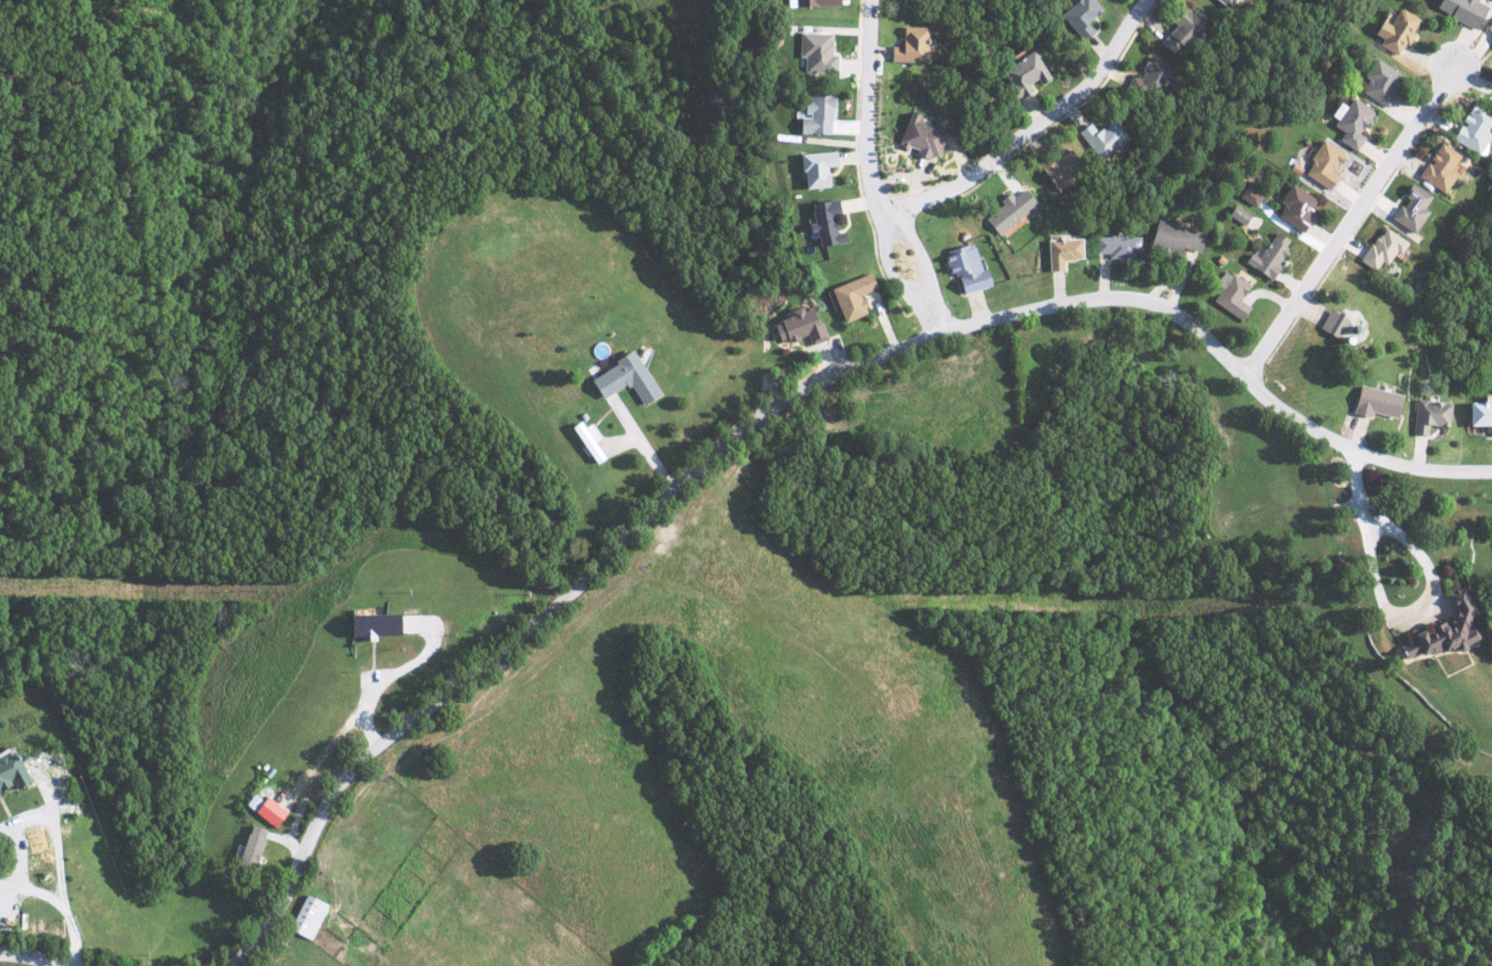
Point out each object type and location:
building: (1223, 2)
building: (809, 3)
building: (1458, 10)
building: (1078, 16)
building: (1488, 30)
building: (1393, 31)
building: (907, 45)
building: (814, 52)
building: (1021, 76)
building: (1146, 77)
building: (1377, 82)
building: (813, 114)
building: (1349, 122)
building: (1471, 129)
road: (1035, 131)
building: (918, 137)
building: (1101, 138)
building: (1321, 166)
building: (813, 168)
building: (1436, 168)
building: (1057, 169)
road: (873, 174)
building: (1248, 196)
building: (1293, 207)
building: (1409, 209)
building: (1006, 211)
building: (1236, 215)
building: (821, 223)
road: (1350, 225)
building: (1172, 238)
building: (1114, 246)
building: (1381, 249)
building: (1058, 253)
building: (1266, 256)
building: (962, 268)
building: (1228, 295)
building: (848, 297)
building: (1331, 325)
building: (796, 327)
building: (621, 379)
road: (807, 386)
building: (1372, 402)
building: (1428, 415)
building: (1479, 415)
building: (586, 441)
road: (640, 443)
road: (1385, 609)
building: (370, 624)
building: (1442, 628)
road: (405, 666)
road: (309, 767)
building: (10, 770)
building: (266, 810)
road: (53, 839)
building: (249, 846)
road: (35, 890)
building: (304, 915)
road: (256, 937)
road: (72, 938)
road: (30, 957)

